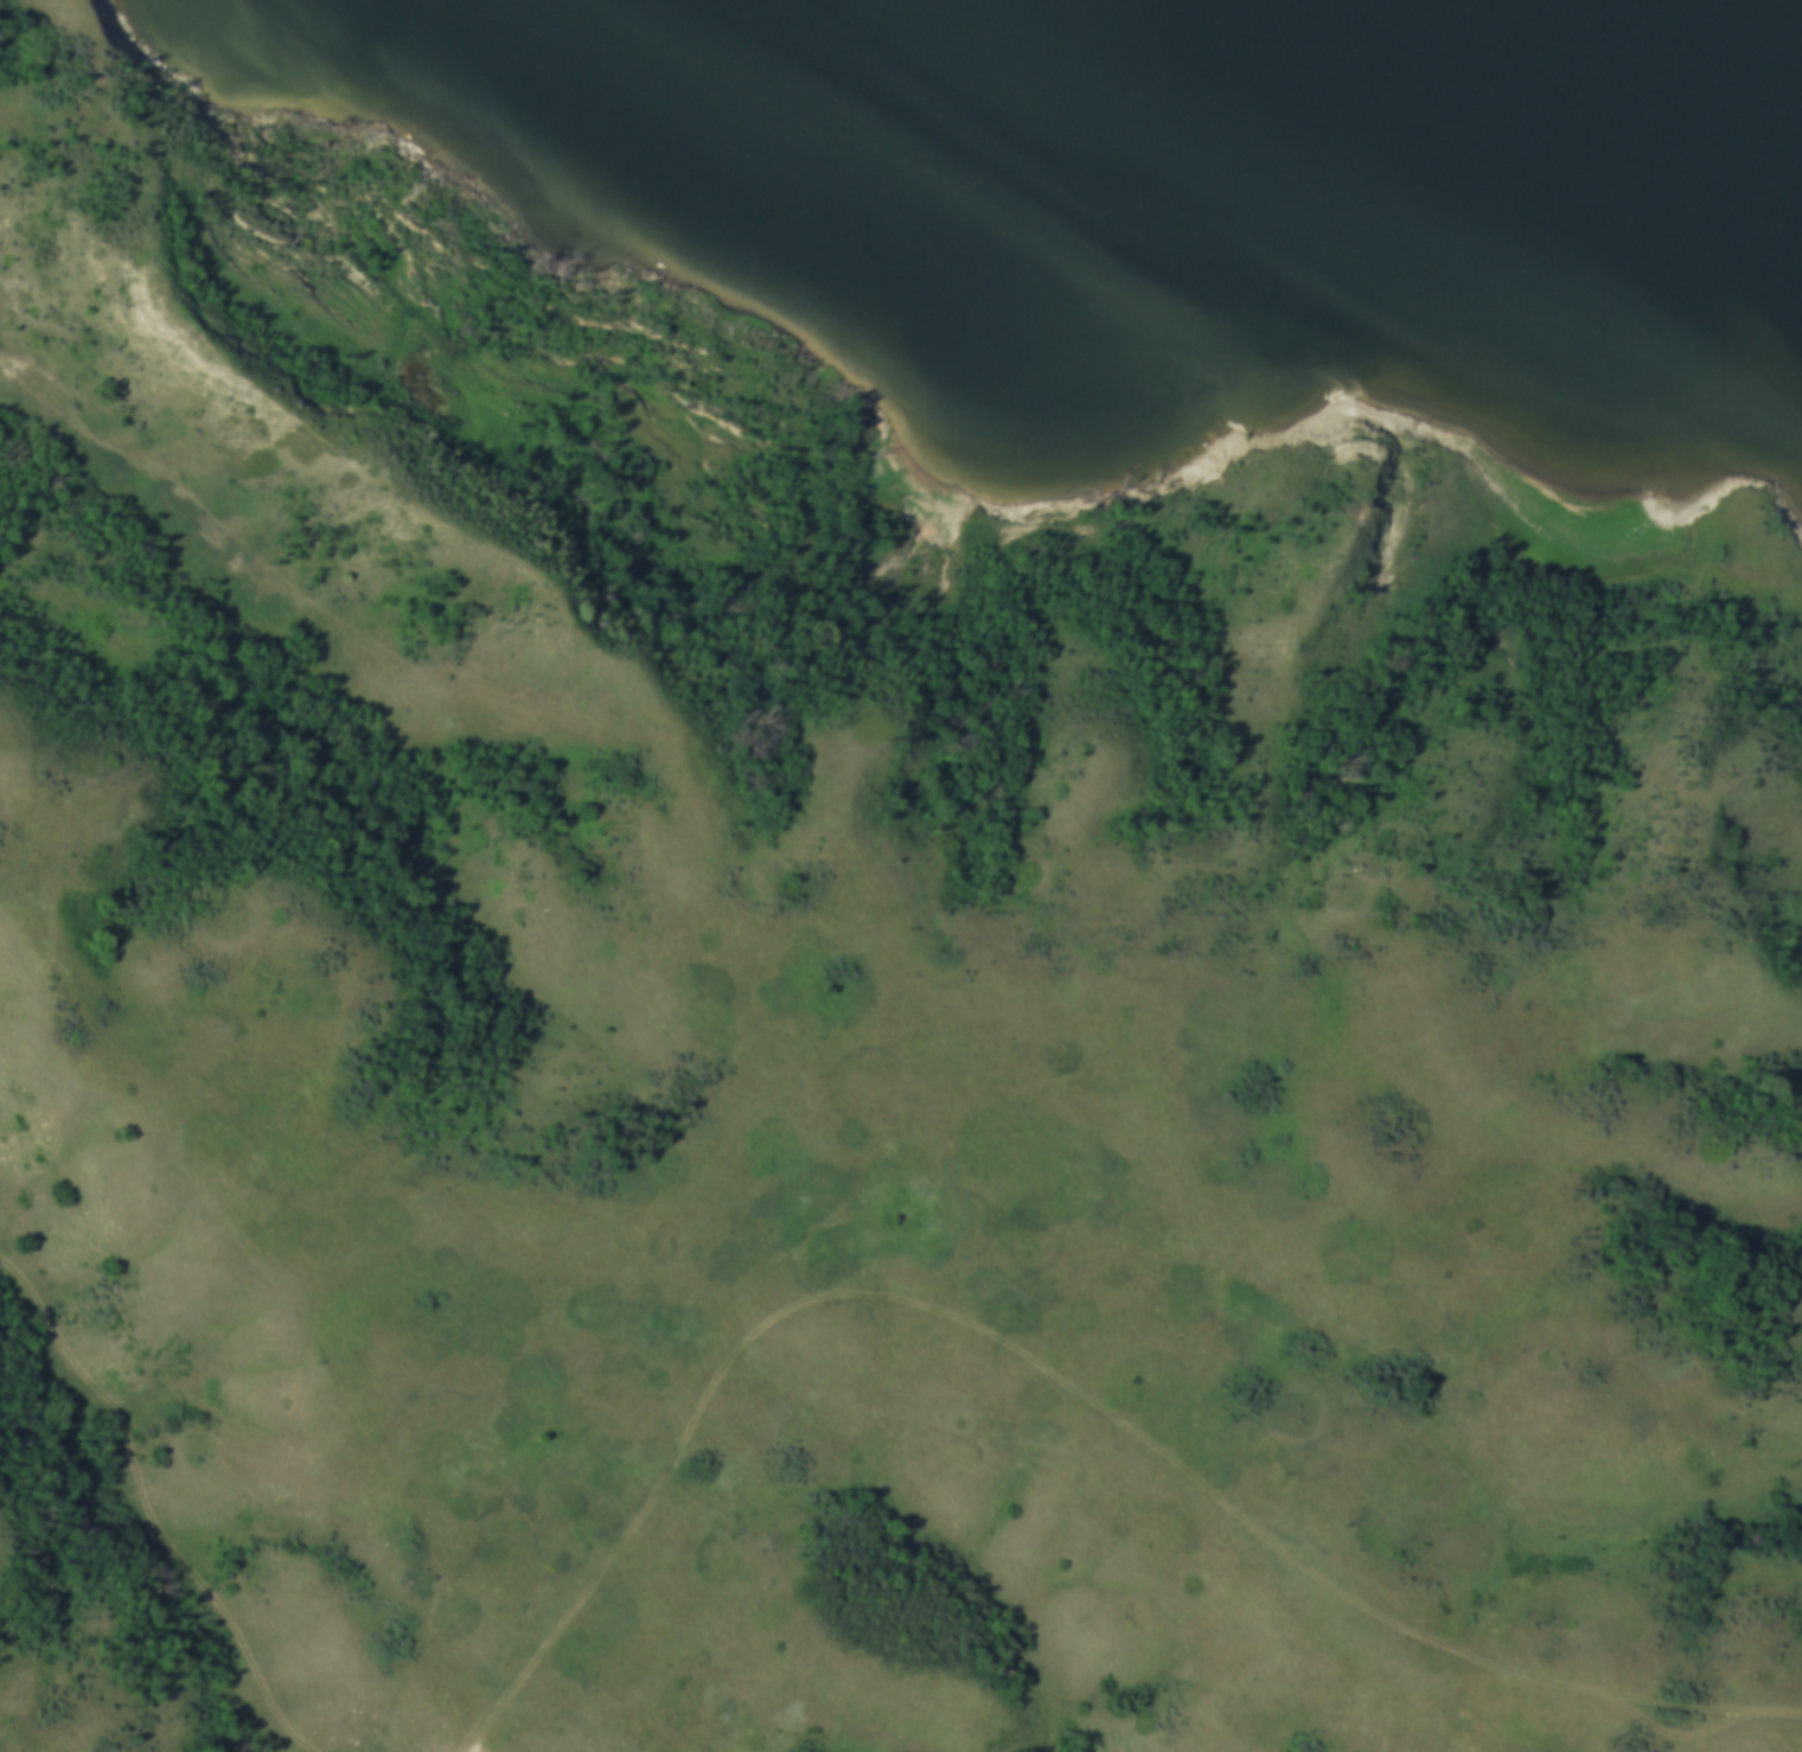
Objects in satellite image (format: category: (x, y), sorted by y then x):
road: (1055, 1380)

